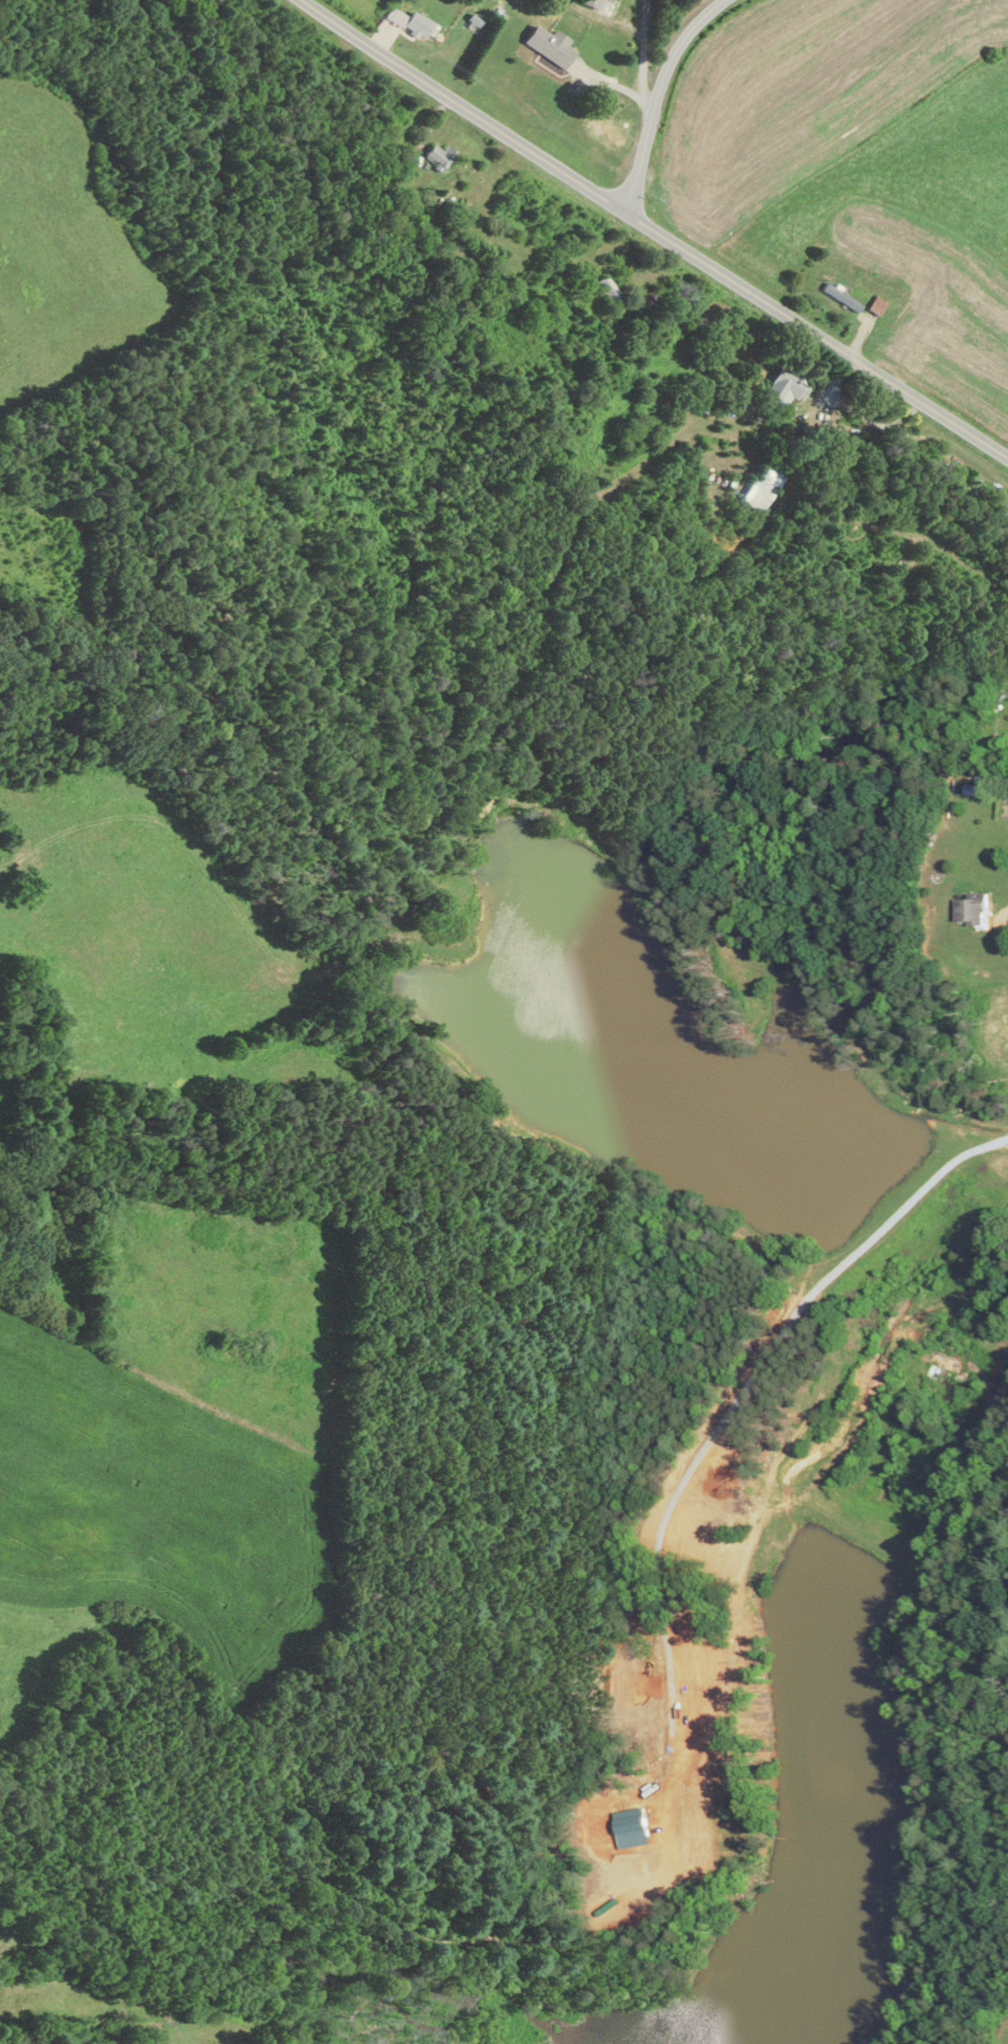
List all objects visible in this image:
building: (594, 3)
building: (413, 22)
building: (552, 45)
road: (643, 67)
road: (657, 95)
building: (441, 156)
road: (654, 229)
building: (608, 288)
building: (845, 298)
building: (878, 305)
building: (614, 337)
building: (786, 388)
building: (764, 489)
building: (972, 909)
road: (723, 1406)

